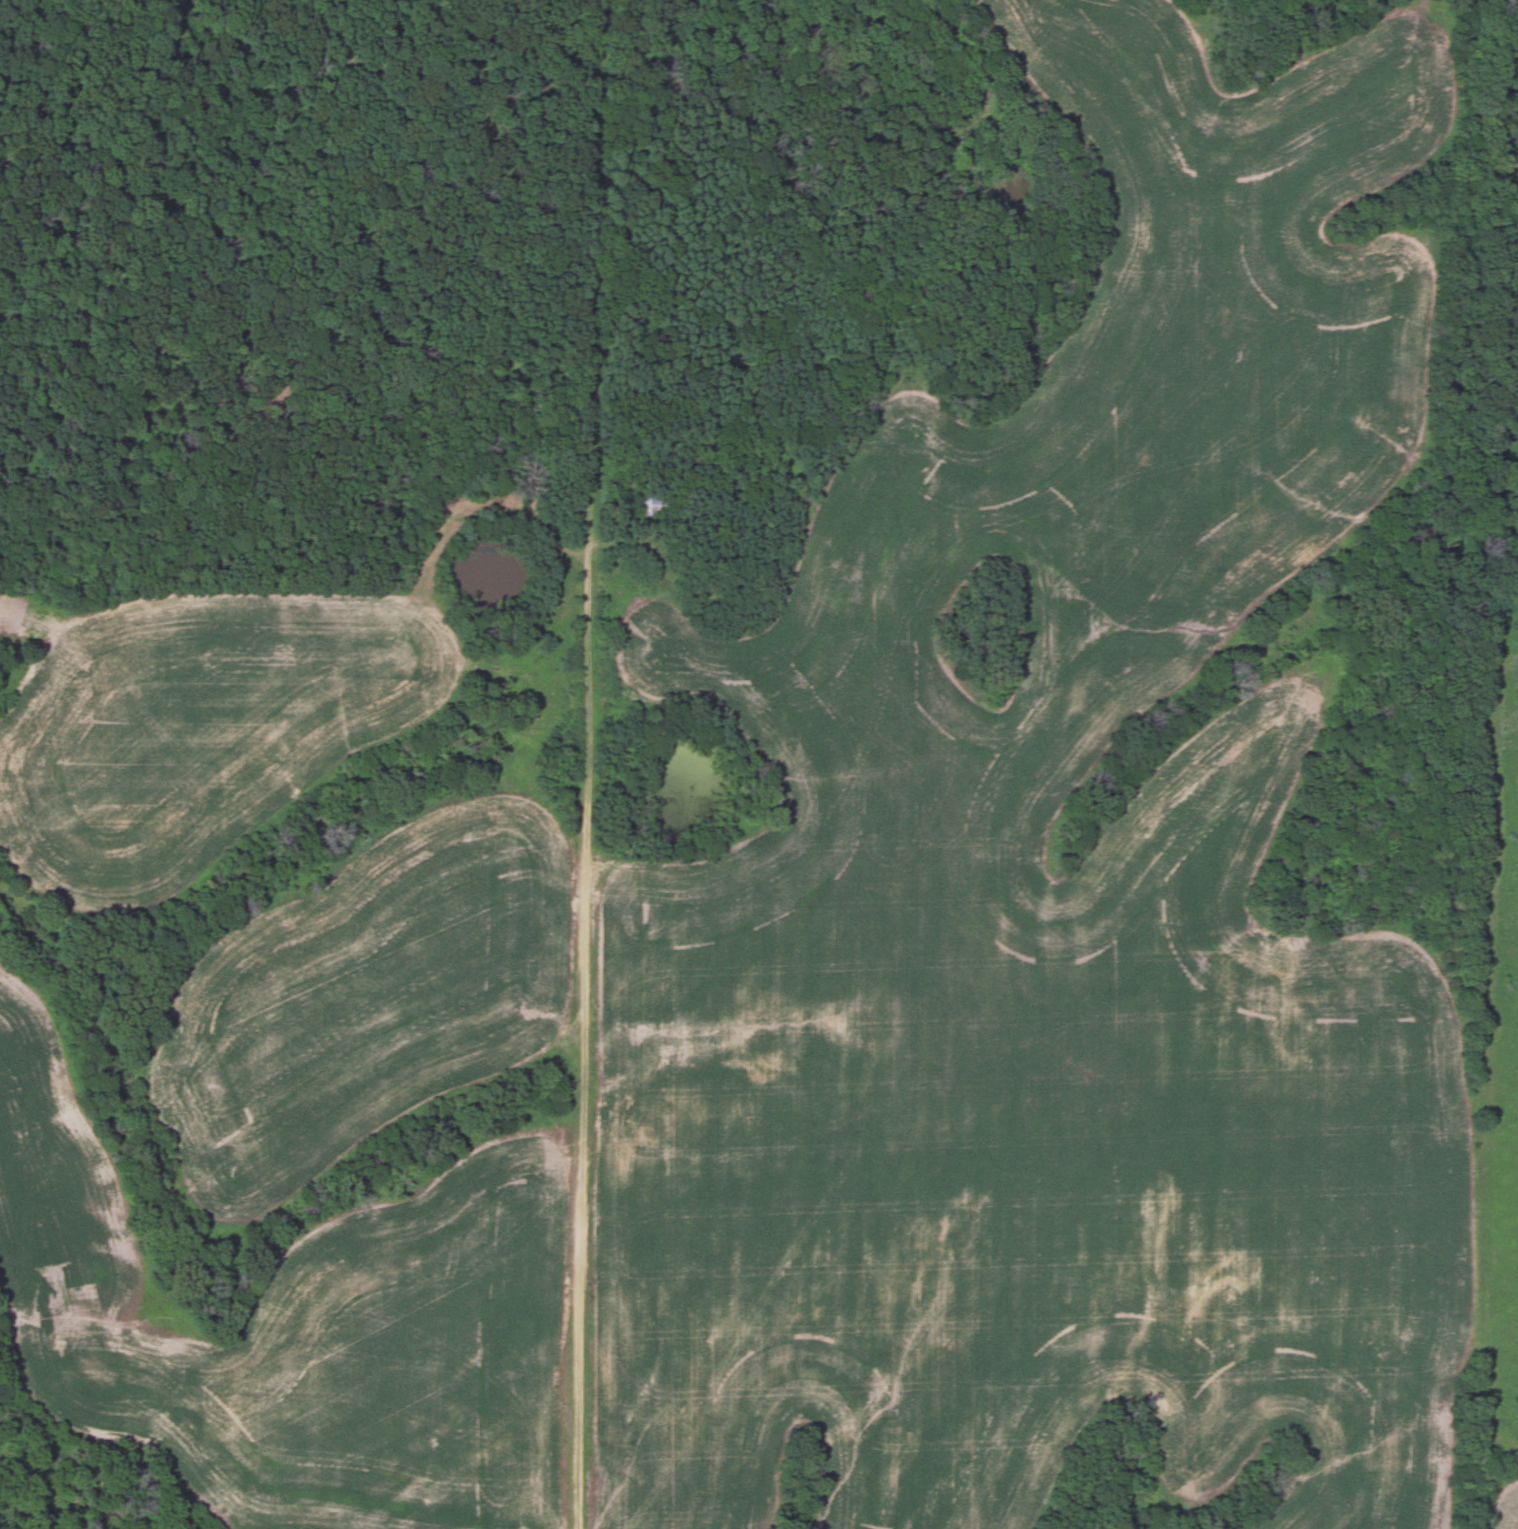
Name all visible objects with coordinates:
building: (651, 505)
road: (587, 764)

